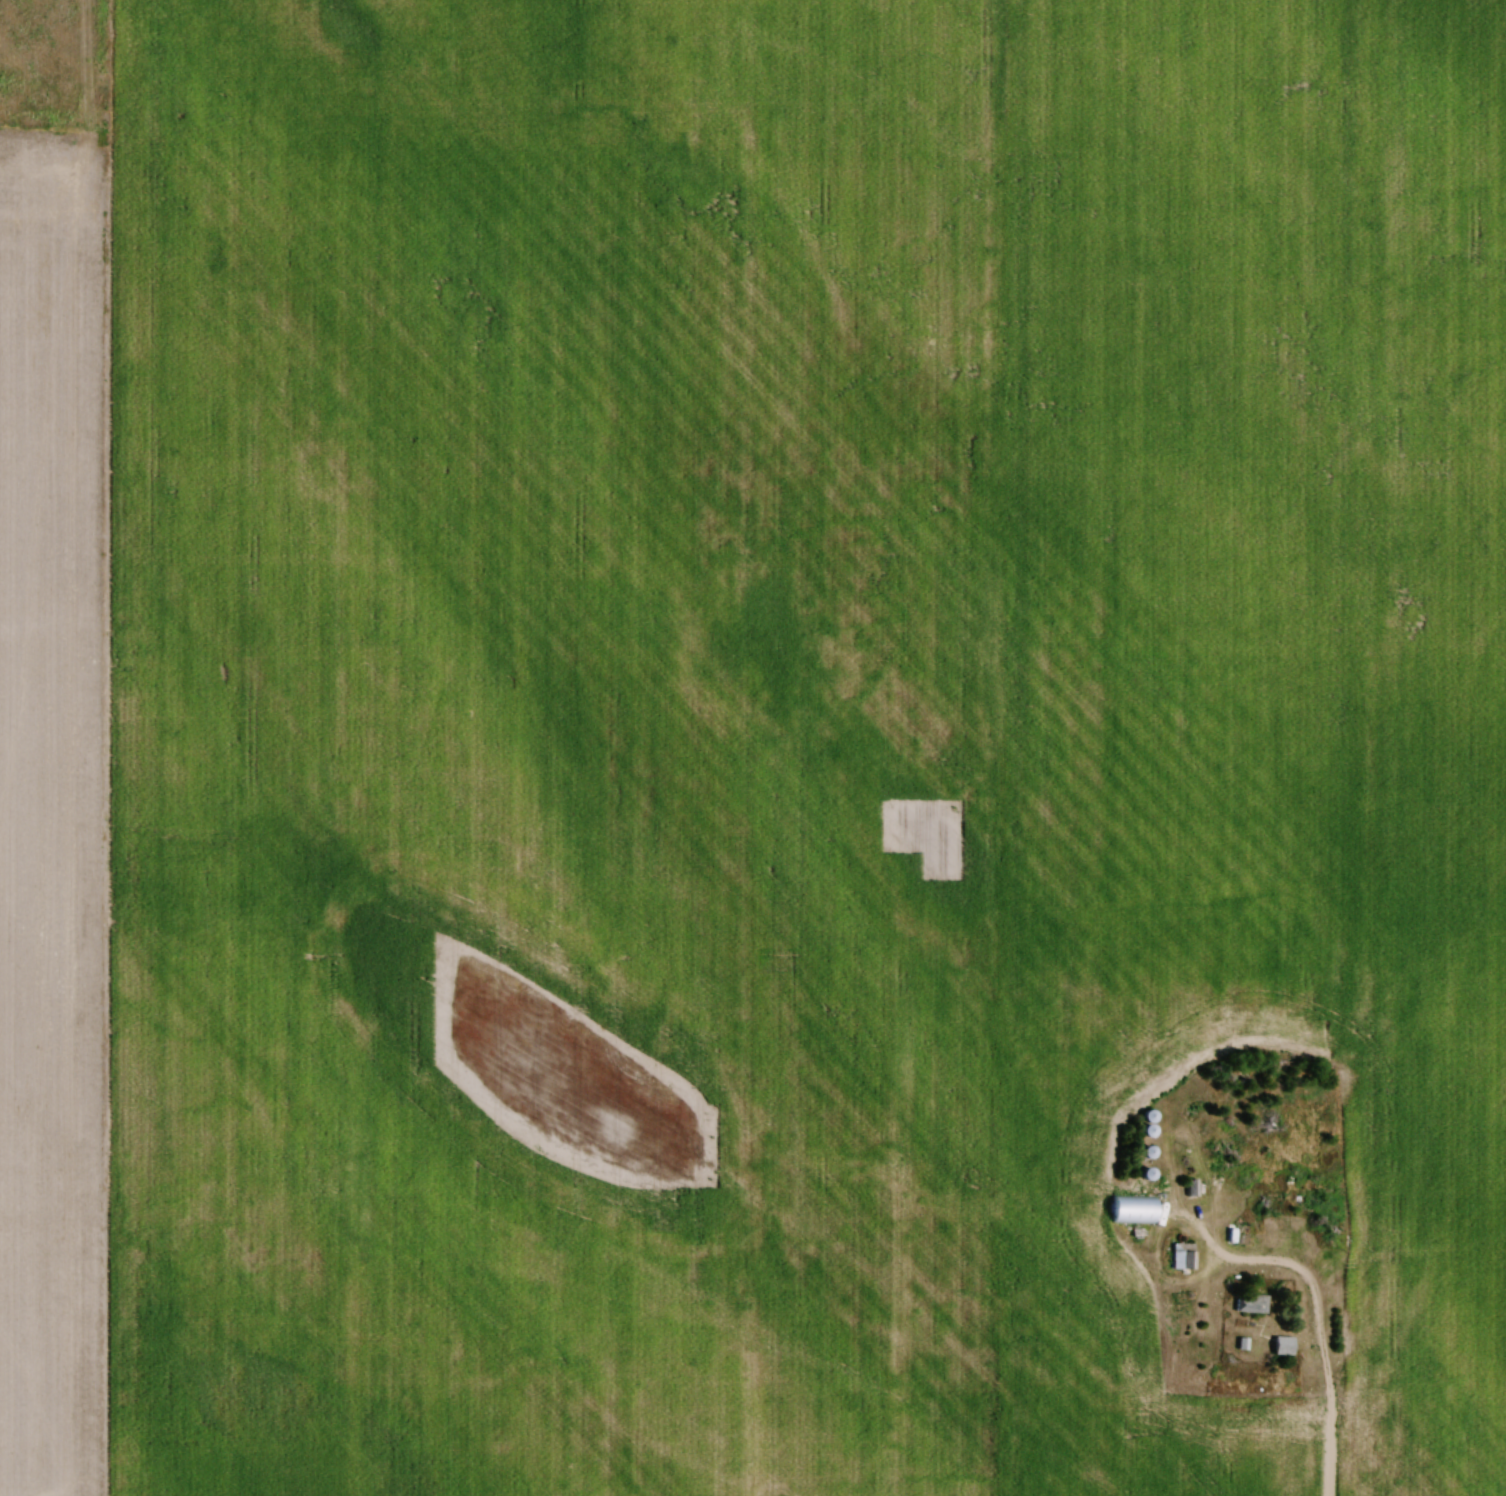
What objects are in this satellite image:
building: (1272, 1197)
building: (1130, 1210)
road: (1163, 1217)
building: (1236, 1234)
building: (1180, 1256)
building: (1249, 1303)
road: (1318, 1340)
building: (1280, 1346)

